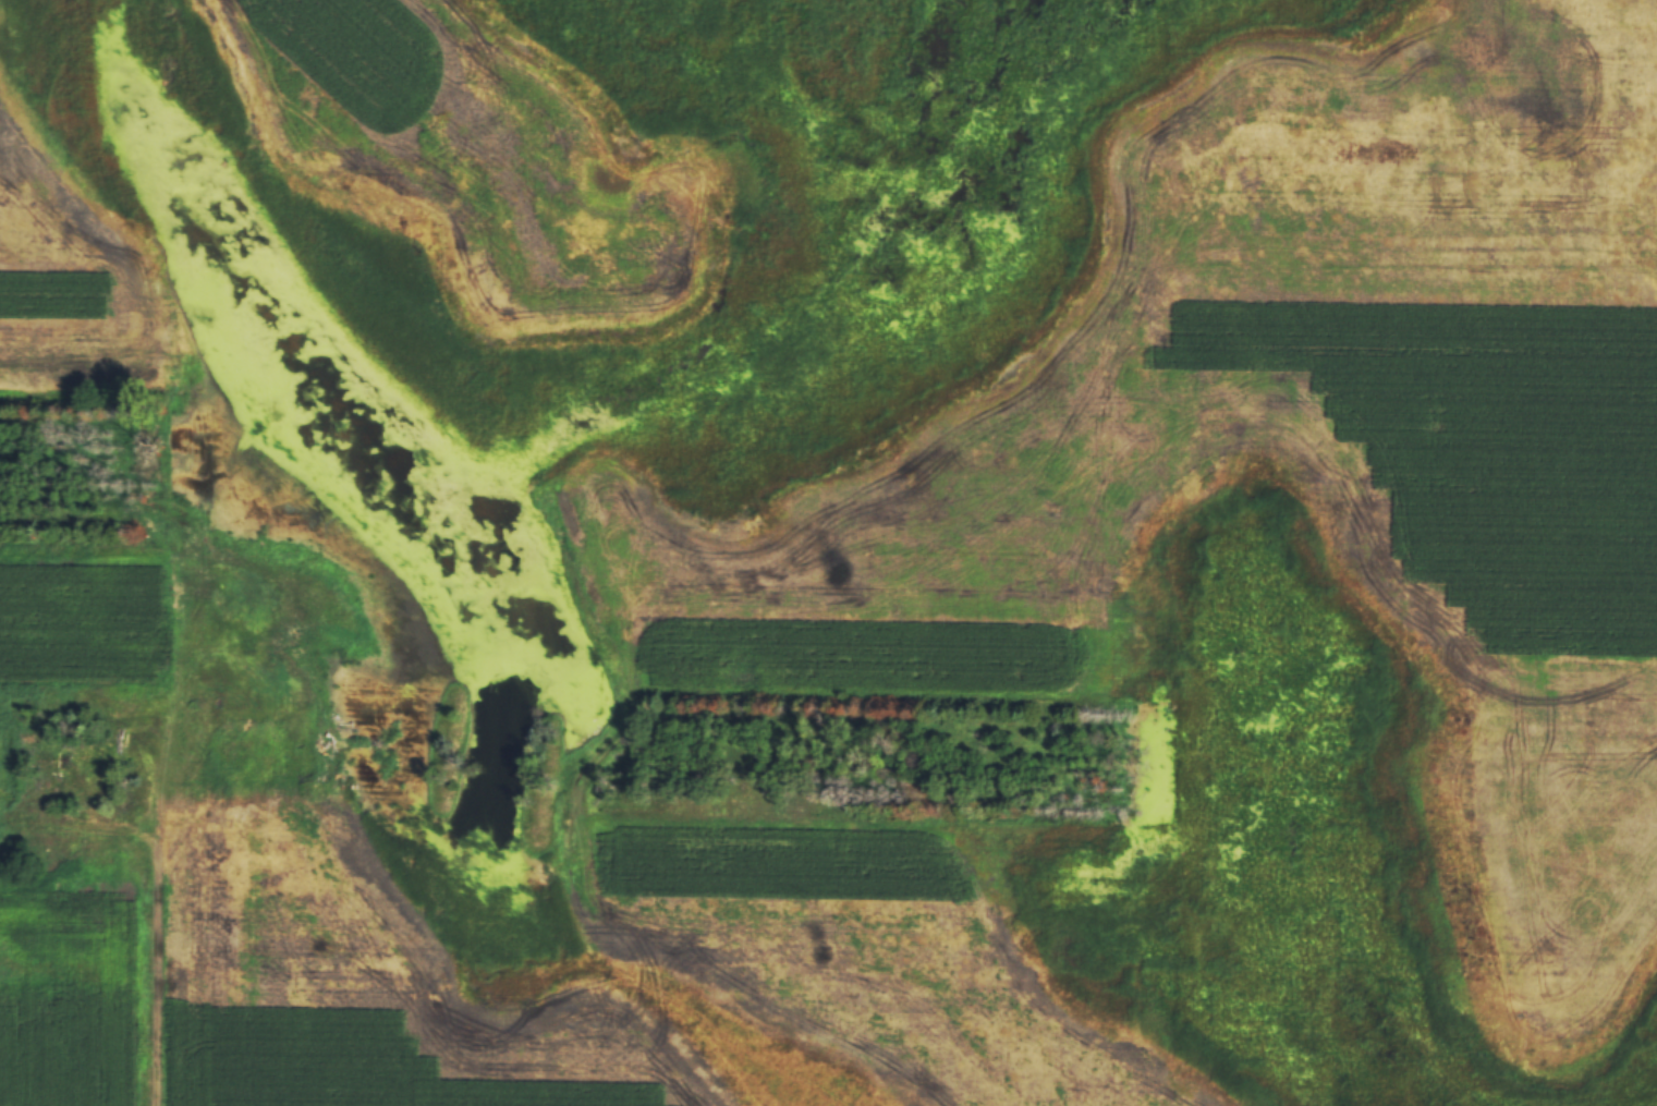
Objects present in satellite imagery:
building: (0, 828)
road: (160, 929)

